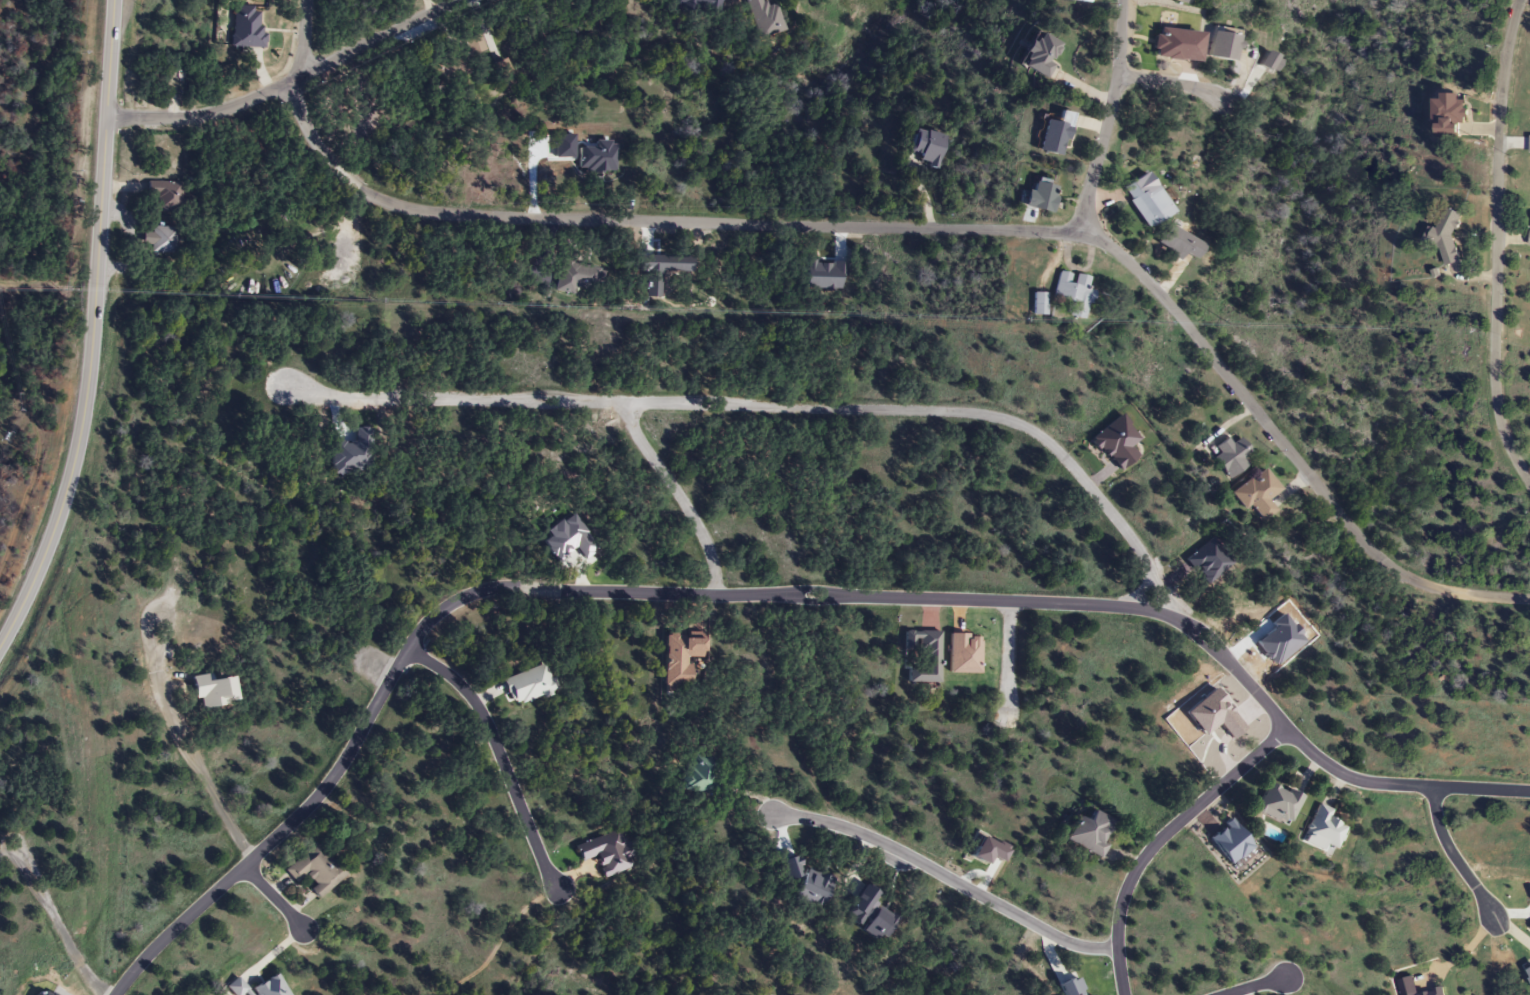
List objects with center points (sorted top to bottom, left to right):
building: (1181, 1)
building: (762, 17)
building: (246, 26)
building: (473, 44)
building: (1220, 45)
building: (1039, 55)
building: (1263, 63)
building: (450, 66)
road: (287, 81)
road: (1166, 81)
road: (1105, 118)
building: (1054, 134)
building: (1529, 144)
building: (925, 147)
building: (596, 157)
building: (162, 196)
building: (1037, 196)
building: (1144, 201)
road: (914, 227)
building: (1445, 237)
building: (1529, 238)
building: (156, 239)
building: (1175, 242)
road: (1496, 245)
building: (576, 277)
building: (1072, 293)
building: (1037, 303)
road: (92, 329)
road: (771, 405)
building: (1229, 456)
road: (677, 494)
building: (1256, 494)
road: (762, 594)
building: (922, 656)
road: (1009, 659)
building: (526, 684)
road: (501, 757)
building: (696, 774)
building: (1277, 804)
building: (1322, 830)
building: (1088, 834)
road: (1158, 838)
building: (605, 853)
road: (1450, 855)
building: (314, 870)
road: (945, 878)
road: (273, 901)
park: (470, 985)
road: (1254, 986)
building: (1414, 988)

